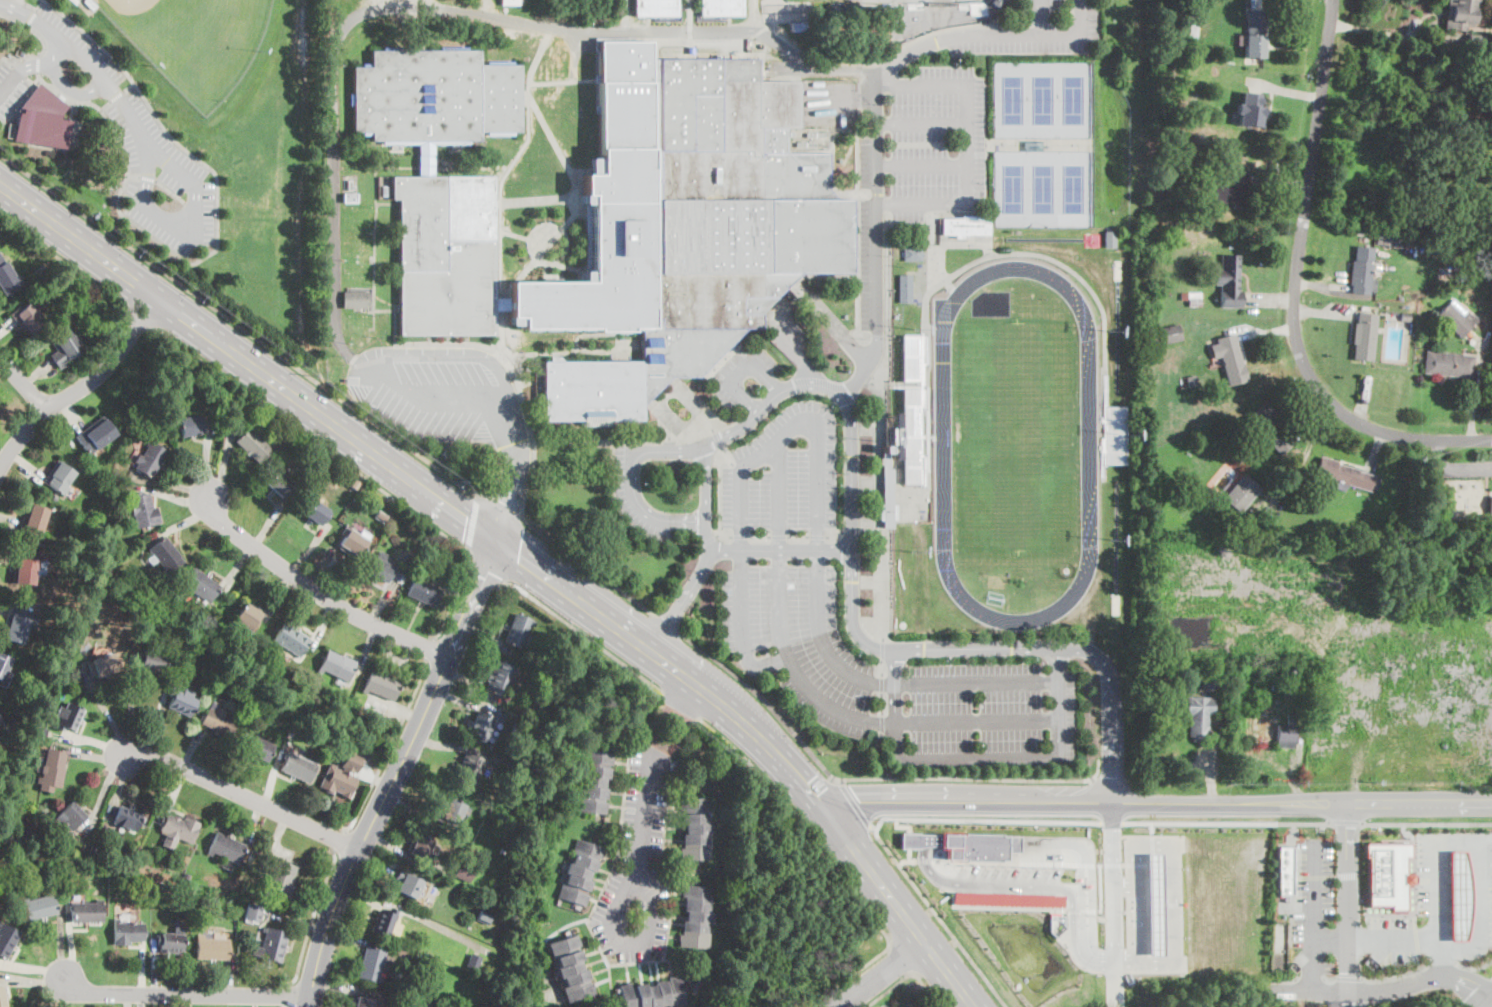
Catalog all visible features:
park: (872, 0)
building: (510, 2)
building: (995, 2)
building: (89, 4)
building: (941, 4)
parking lot: (1043, 6)
road: (33, 7)
road: (492, 8)
building: (656, 8)
building: (721, 8)
road: (17, 10)
building: (1460, 15)
road: (1042, 16)
road: (31, 17)
road: (352, 19)
road: (1068, 19)
building: (1189, 19)
road: (1041, 23)
building: (800, 27)
road: (940, 28)
road: (1379, 32)
road: (990, 33)
building: (1253, 34)
park: (195, 40)
parking lot: (1037, 40)
building: (1477, 42)
road: (45, 44)
road: (38, 63)
road: (29, 66)
road: (39, 75)
road: (72, 87)
road: (128, 87)
road: (116, 95)
building: (435, 97)
park: (1042, 98)
road: (18, 103)
road: (106, 104)
building: (1249, 110)
building: (43, 118)
building: (1194, 121)
road: (922, 122)
building: (1427, 124)
parking lot: (124, 134)
building: (1474, 137)
parking lot: (939, 141)
park: (190, 144)
road: (966, 144)
building: (426, 160)
road: (922, 164)
road: (176, 167)
building: (1191, 171)
road: (133, 175)
building: (1209, 177)
road: (147, 178)
road: (376, 184)
park: (1042, 186)
road: (500, 190)
road: (574, 190)
building: (1233, 190)
road: (171, 191)
building: (350, 198)
road: (537, 199)
building: (356, 219)
building: (684, 226)
building: (966, 226)
parking lot: (872, 230)
road: (878, 238)
building: (1383, 238)
building: (1109, 239)
road: (218, 245)
building: (356, 246)
building: (912, 253)
building: (446, 255)
building: (1450, 256)
road: (65, 260)
road: (301, 264)
building: (1362, 270)
building: (356, 271)
building: (7, 278)
building: (1229, 281)
building: (45, 283)
building: (905, 289)
road: (1295, 290)
building: (356, 296)
building: (1191, 298)
road: (139, 316)
building: (1405, 316)
building: (29, 318)
building: (1458, 319)
building: (356, 322)
road: (238, 324)
building: (1172, 333)
building: (1365, 336)
building: (66, 346)
road: (467, 353)
building: (1230, 359)
road: (247, 361)
building: (1449, 363)
road: (738, 371)
parking lot: (744, 375)
building: (1192, 381)
road: (23, 384)
road: (81, 387)
building: (220, 392)
parking lot: (444, 394)
road: (770, 402)
building: (191, 425)
road: (529, 425)
road: (796, 426)
building: (1270, 426)
building: (96, 435)
building: (896, 437)
road: (312, 438)
building: (254, 444)
track: (1016, 444)
park: (1017, 445)
building: (153, 459)
building: (318, 462)
road: (853, 468)
parking lot: (786, 472)
building: (1344, 475)
building: (61, 478)
road: (630, 480)
building: (279, 482)
road: (514, 486)
building: (349, 487)
building: (301, 489)
building: (887, 491)
building: (1242, 493)
building: (1437, 494)
road: (778, 496)
road: (707, 498)
building: (1490, 505)
road: (499, 506)
building: (144, 511)
building: (315, 511)
building: (380, 516)
road: (471, 520)
building: (35, 521)
traffic signals: (495, 538)
building: (353, 540)
road: (467, 547)
building: (80, 550)
road: (514, 550)
building: (167, 555)
building: (404, 558)
road: (587, 566)
building: (381, 568)
road: (489, 568)
building: (25, 570)
building: (399, 575)
road: (882, 585)
building: (203, 587)
building: (1271, 590)
road: (318, 592)
building: (424, 592)
road: (454, 599)
building: (248, 617)
building: (17, 623)
road: (667, 623)
building: (192, 625)
road: (744, 628)
building: (519, 631)
road: (580, 632)
road: (1303, 635)
road: (1419, 635)
building: (291, 639)
road: (822, 641)
parking lot: (786, 647)
road: (430, 648)
building: (188, 649)
road: (880, 650)
road: (883, 651)
building: (234, 655)
building: (150, 661)
building: (250, 663)
building: (105, 665)
building: (338, 666)
road: (796, 666)
building: (4, 668)
road: (675, 668)
road: (882, 668)
building: (1295, 670)
road: (1419, 672)
building: (501, 679)
building: (1212, 681)
road: (977, 682)
road: (1347, 682)
road: (882, 685)
building: (381, 686)
road: (762, 698)
building: (183, 703)
road: (882, 704)
road: (131, 705)
road: (680, 705)
building: (379, 706)
building: (539, 706)
road: (662, 710)
road: (106, 711)
building: (352, 711)
building: (1199, 716)
building: (69, 718)
road: (679, 720)
building: (1, 721)
road: (977, 722)
building: (1428, 722)
building: (219, 723)
road: (882, 724)
building: (482, 727)
building: (521, 731)
building: (1285, 736)
building: (538, 738)
road: (391, 747)
building: (258, 748)
road: (876, 755)
road: (978, 757)
building: (299, 767)
building: (470, 769)
building: (53, 770)
road: (399, 771)
building: (25, 772)
building: (343, 776)
road: (973, 778)
road: (1102, 778)
building: (6, 780)
building: (594, 781)
road: (841, 782)
road: (243, 796)
road: (1160, 802)
road: (853, 804)
building: (453, 812)
building: (71, 817)
building: (128, 819)
road: (982, 819)
road: (1345, 821)
road: (1111, 822)
road: (1200, 822)
road: (1303, 822)
road: (1375, 822)
road: (1150, 828)
building: (695, 829)
building: (177, 830)
building: (5, 834)
road: (340, 842)
building: (966, 844)
building: (420, 846)
building: (226, 847)
building: (94, 850)
building: (502, 851)
building: (142, 858)
road: (907, 860)
road: (834, 862)
road: (1438, 865)
building: (1286, 869)
building: (464, 872)
building: (580, 872)
road: (1346, 874)
building: (1388, 875)
building: (186, 876)
building: (131, 877)
road: (1085, 877)
building: (282, 880)
road: (1172, 882)
building: (408, 886)
road: (1032, 886)
building: (179, 890)
parking lot: (1477, 893)
parking lot: (1435, 894)
building: (1460, 894)
gas station: (1460, 894)
road: (622, 895)
building: (1008, 899)
parking lot: (1312, 902)
road: (1113, 903)
building: (1152, 904)
building: (38, 907)
road: (1312, 909)
building: (87, 912)
building: (254, 912)
building: (467, 914)
road: (904, 914)
road: (936, 914)
building: (484, 916)
building: (695, 916)
road: (313, 917)
road: (1486, 917)
building: (383, 924)
road: (1135, 927)
building: (127, 933)
road: (1330, 938)
parking lot: (1392, 938)
road: (1394, 938)
building: (7, 939)
road: (1361, 939)
building: (171, 942)
building: (270, 945)
building: (213, 948)
road: (1442, 957)
road: (899, 958)
building: (473, 960)
road: (1443, 962)
building: (374, 965)
road: (1108, 965)
road: (1474, 967)
building: (571, 968)
road: (882, 974)
road: (1346, 974)
road: (1386, 977)
road: (925, 988)
road: (886, 989)
building: (417, 991)
road: (1322, 991)
road: (1480, 993)
road: (187, 994)
building: (653, 994)
road: (289, 996)
building: (2, 998)
building: (365, 1000)
road: (1341, 1000)
parking lot: (884, 1005)

